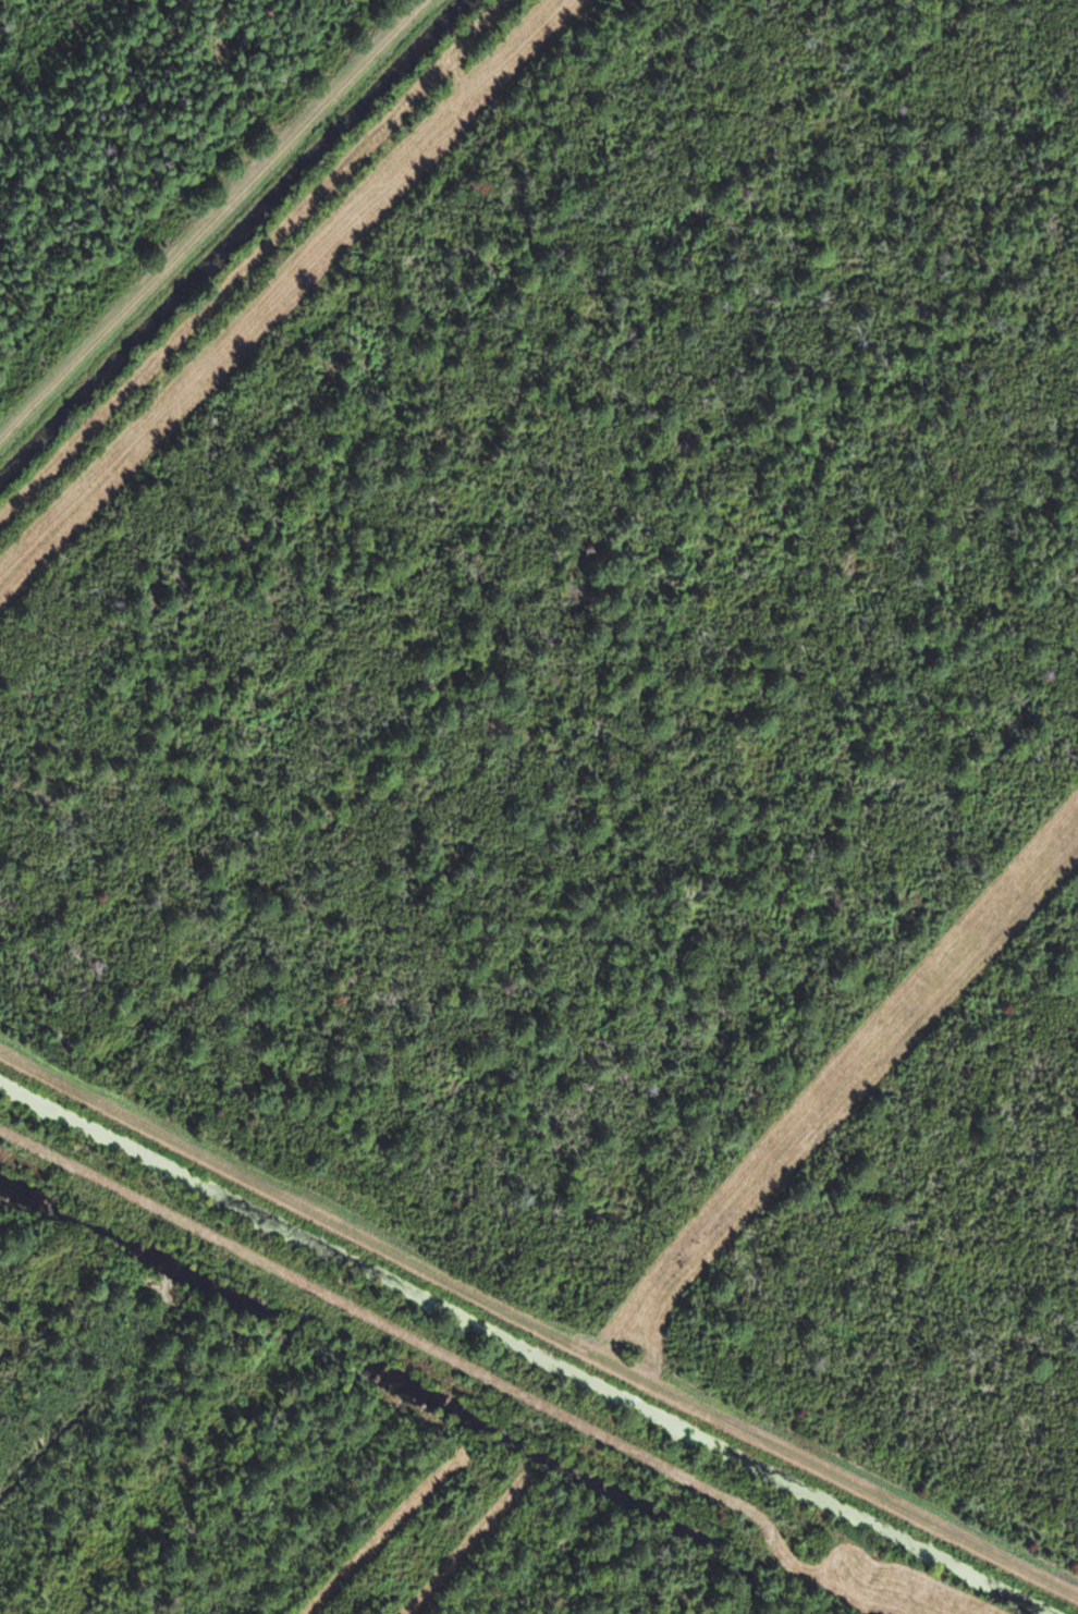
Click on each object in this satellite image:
road: (209, 216)
road: (539, 1321)

